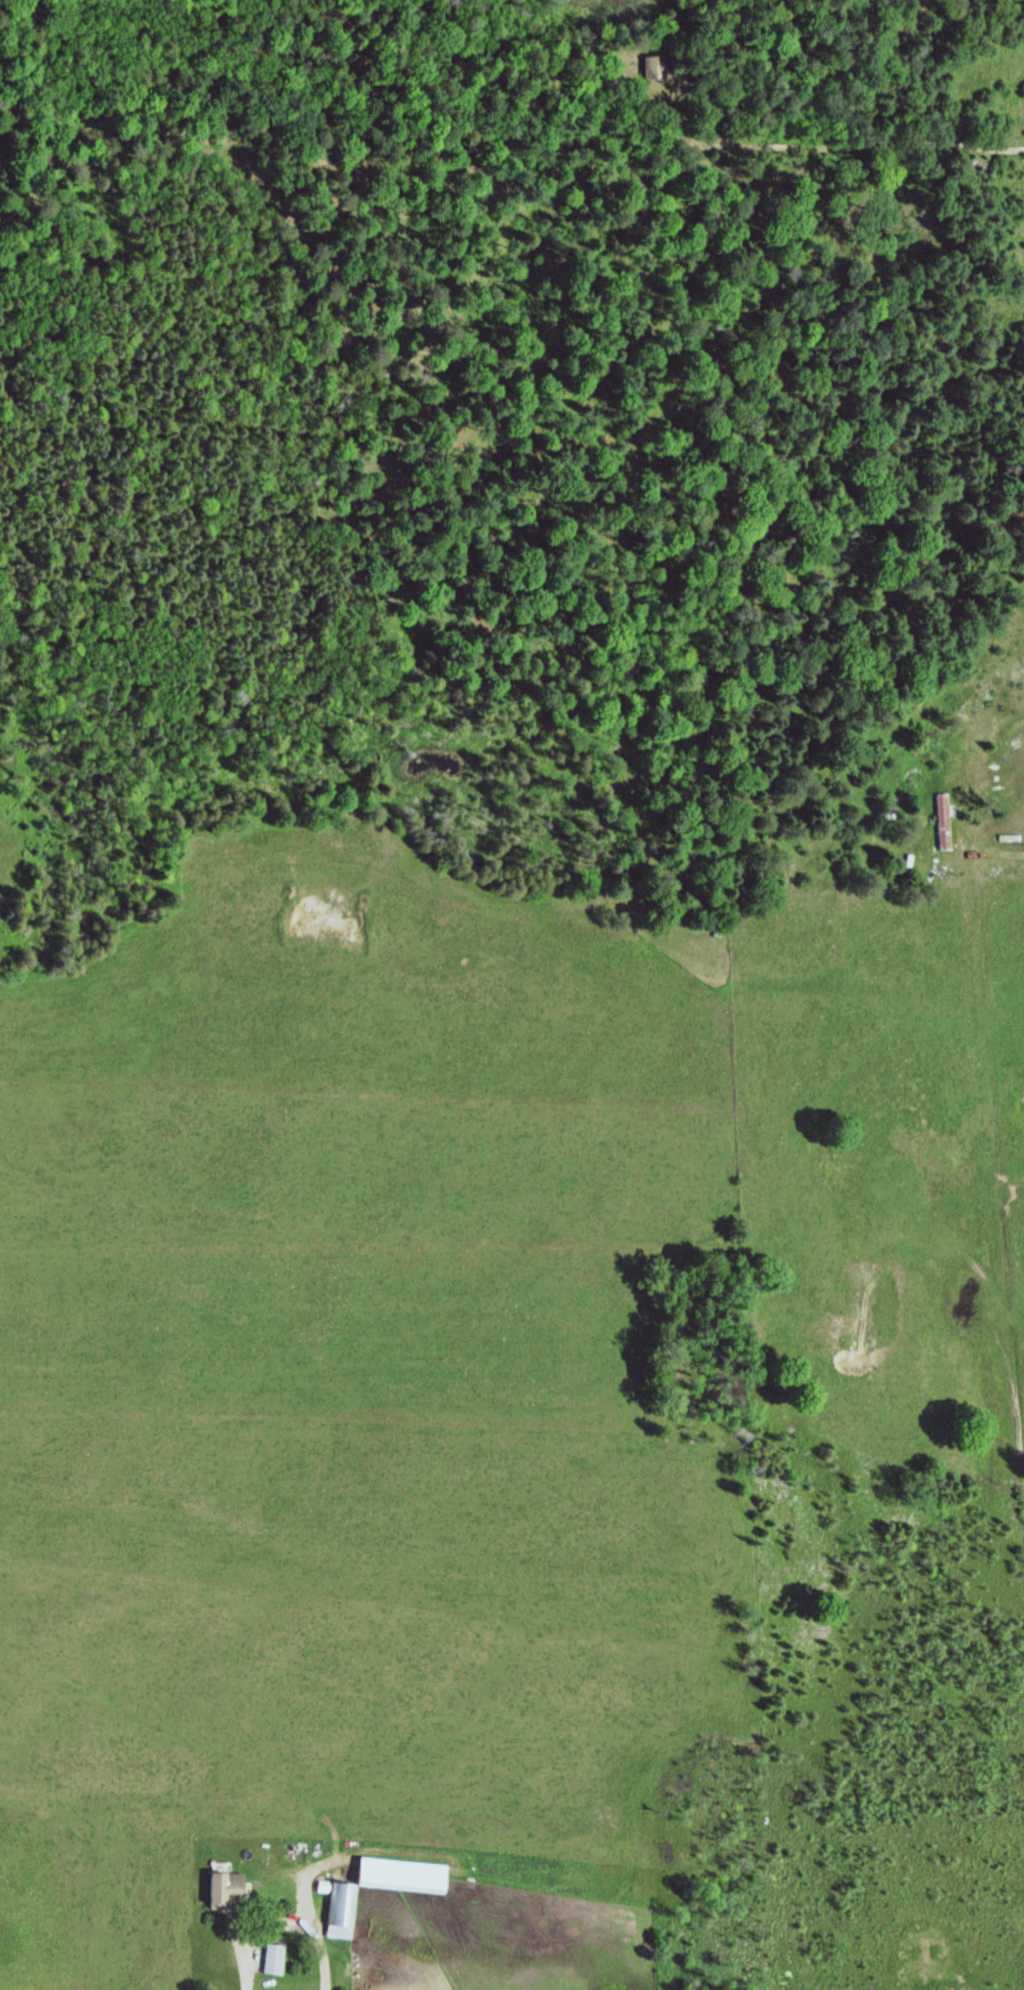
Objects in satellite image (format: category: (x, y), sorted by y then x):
building: (655, 68)
road: (828, 147)
building: (944, 822)
building: (380, 1888)
building: (227, 1889)
building: (273, 1959)

